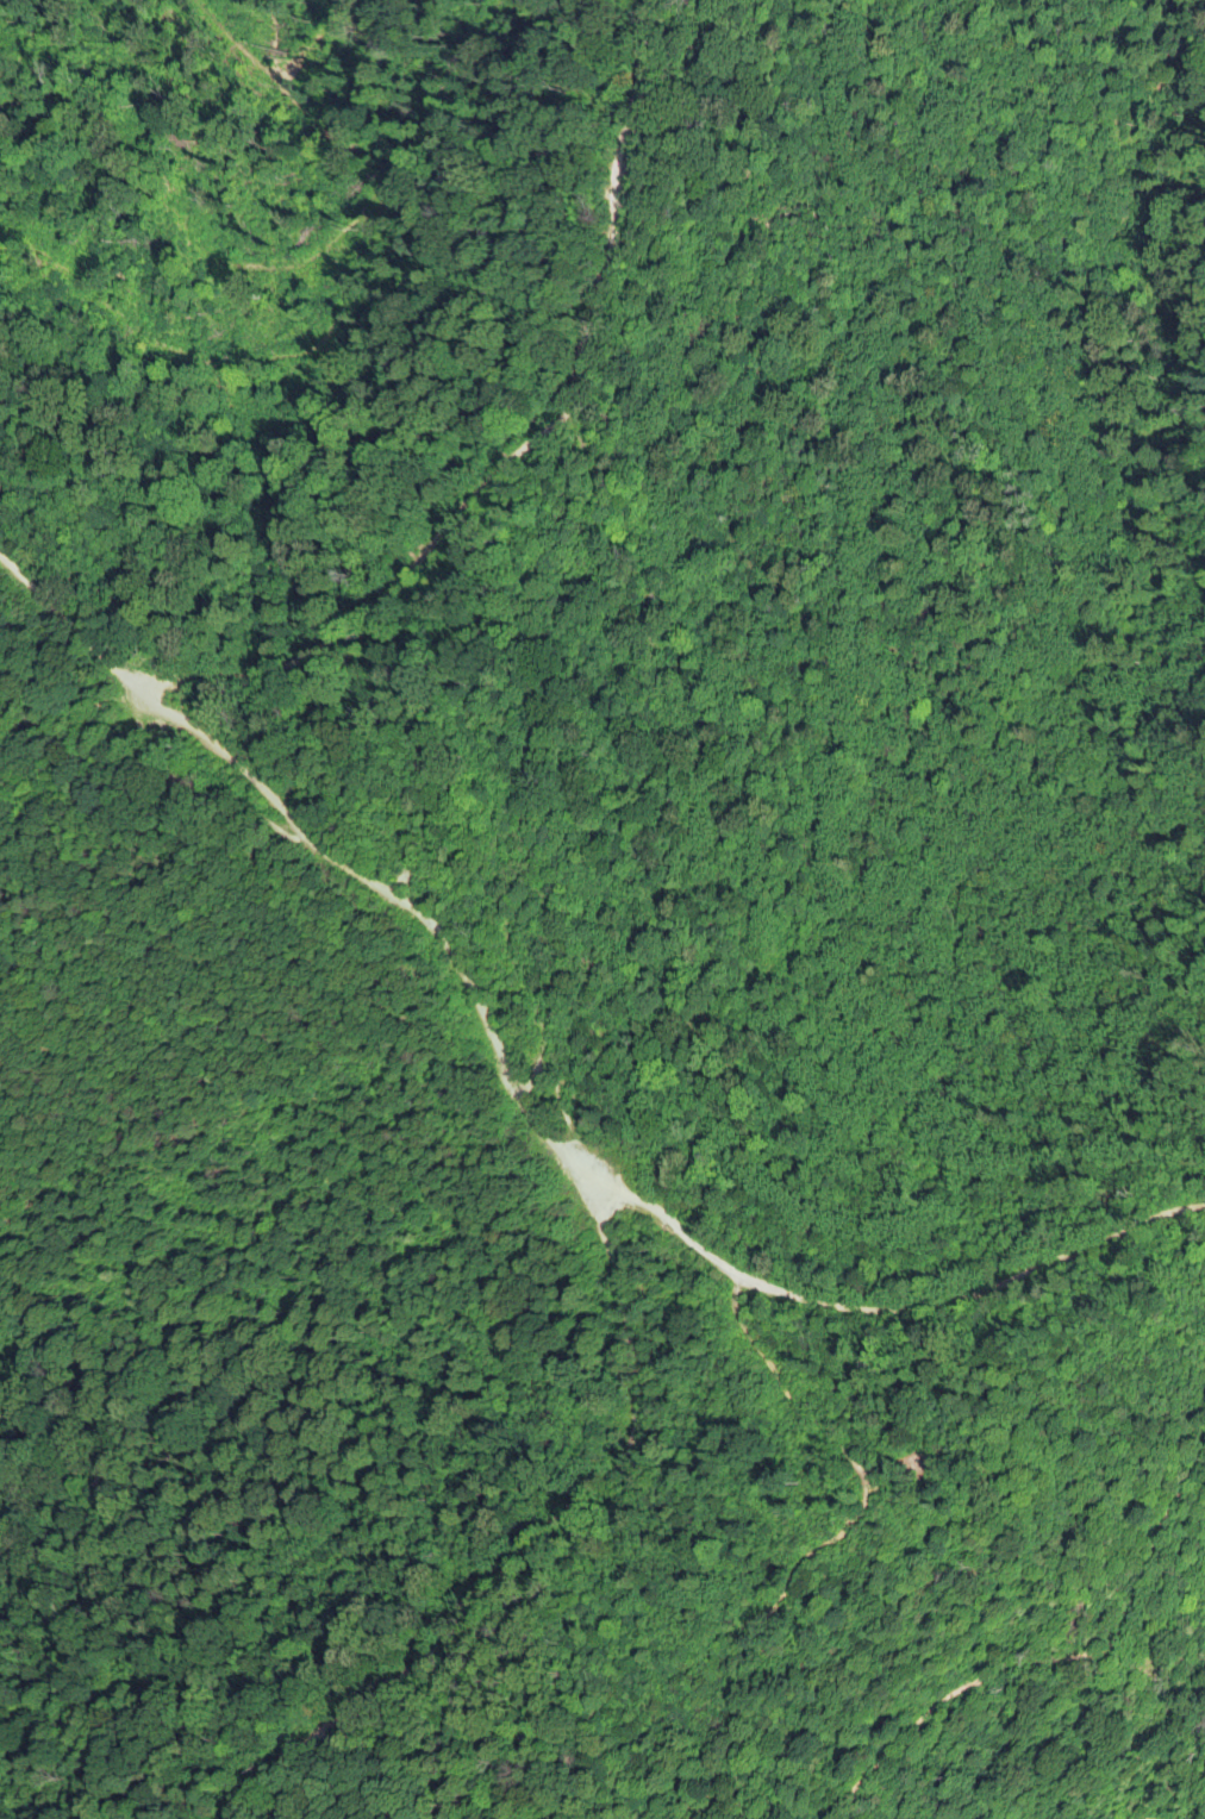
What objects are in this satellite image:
road: (944, 527)
road: (589, 1007)

